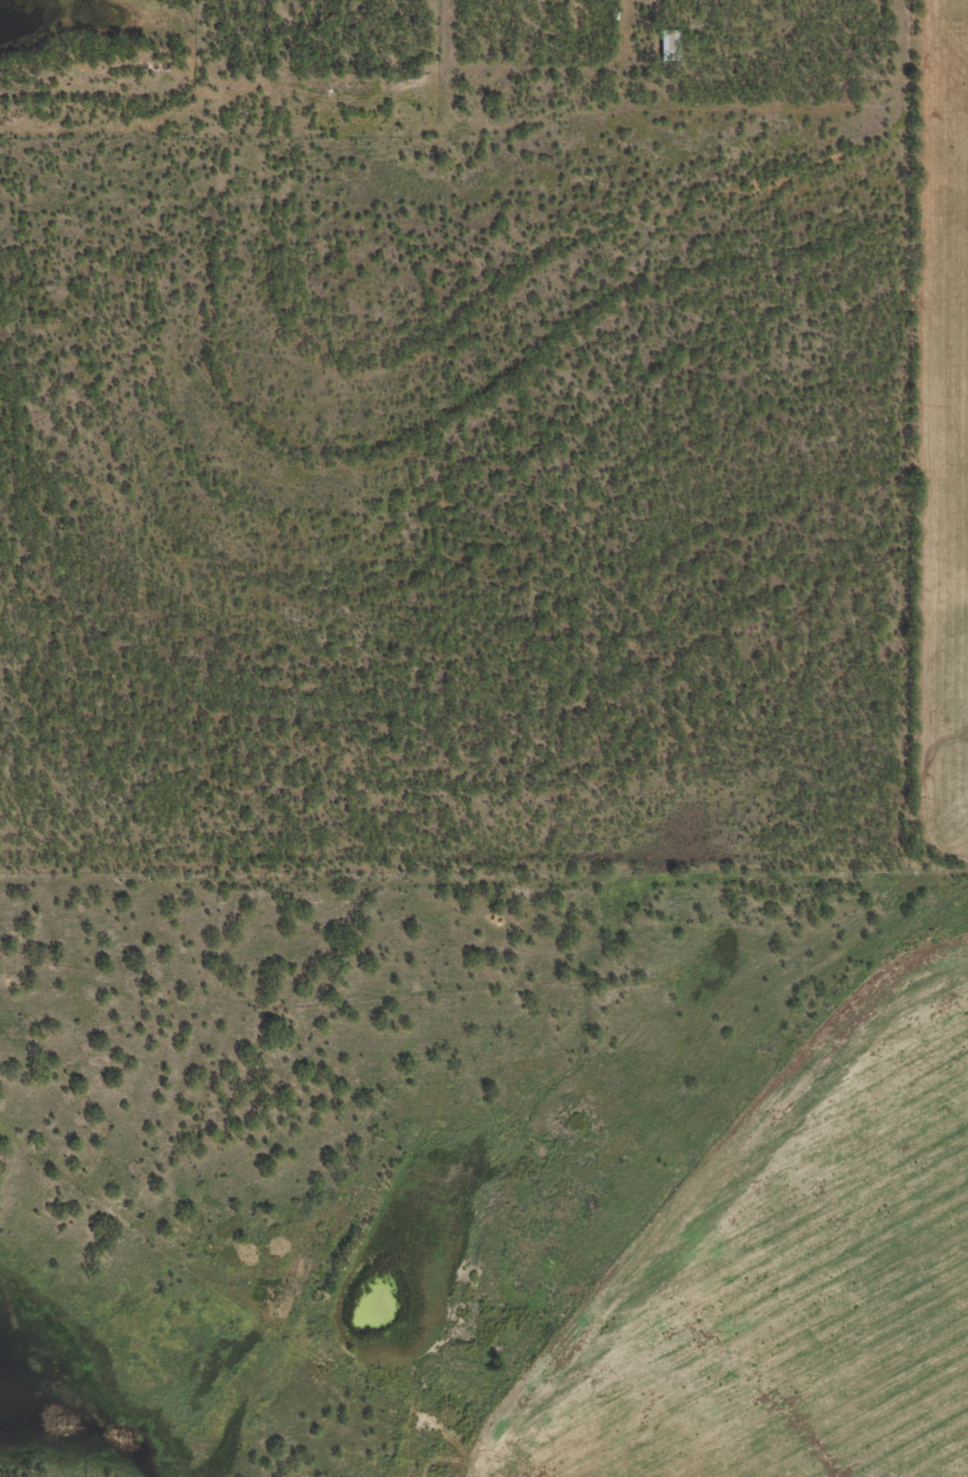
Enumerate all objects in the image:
building: (670, 44)

